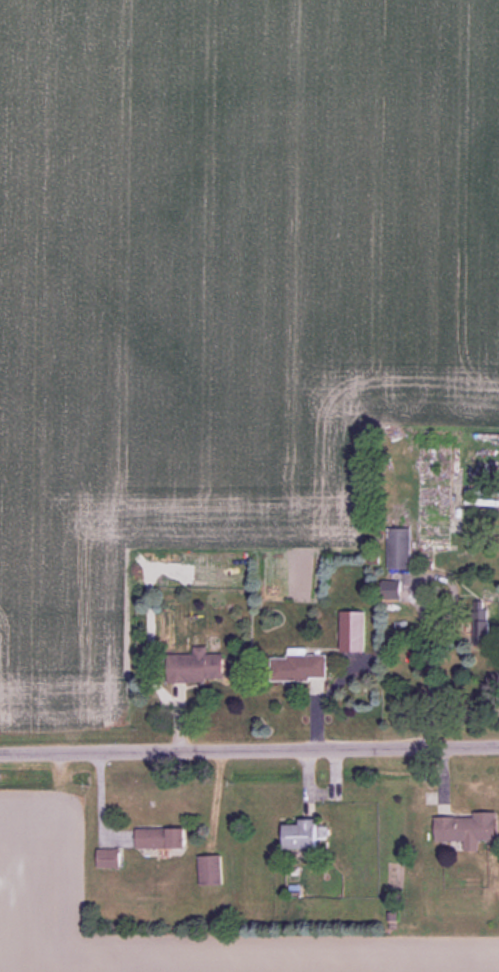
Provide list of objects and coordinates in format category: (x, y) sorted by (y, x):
building: (401, 547)
building: (484, 623)
building: (356, 631)
building: (199, 666)
building: (301, 668)
road: (249, 749)
building: (469, 829)
building: (306, 835)
building: (164, 838)
building: (111, 857)
building: (213, 870)

